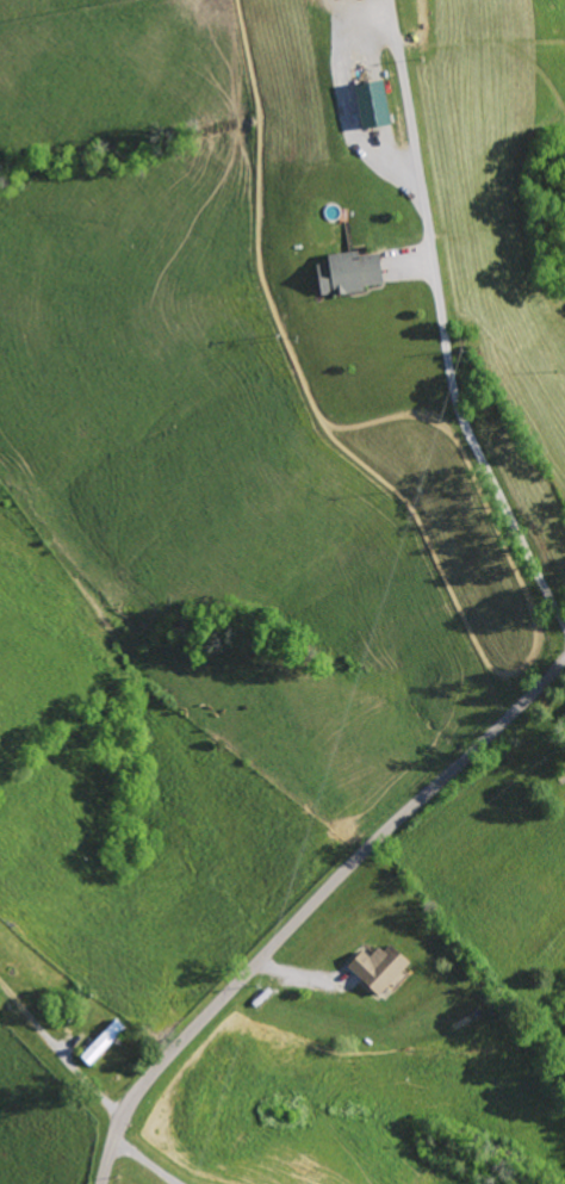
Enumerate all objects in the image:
building: (366, 105)
building: (341, 273)
road: (445, 351)
road: (309, 907)
building: (373, 967)
building: (99, 1041)
road: (61, 1050)
road: (156, 1158)

